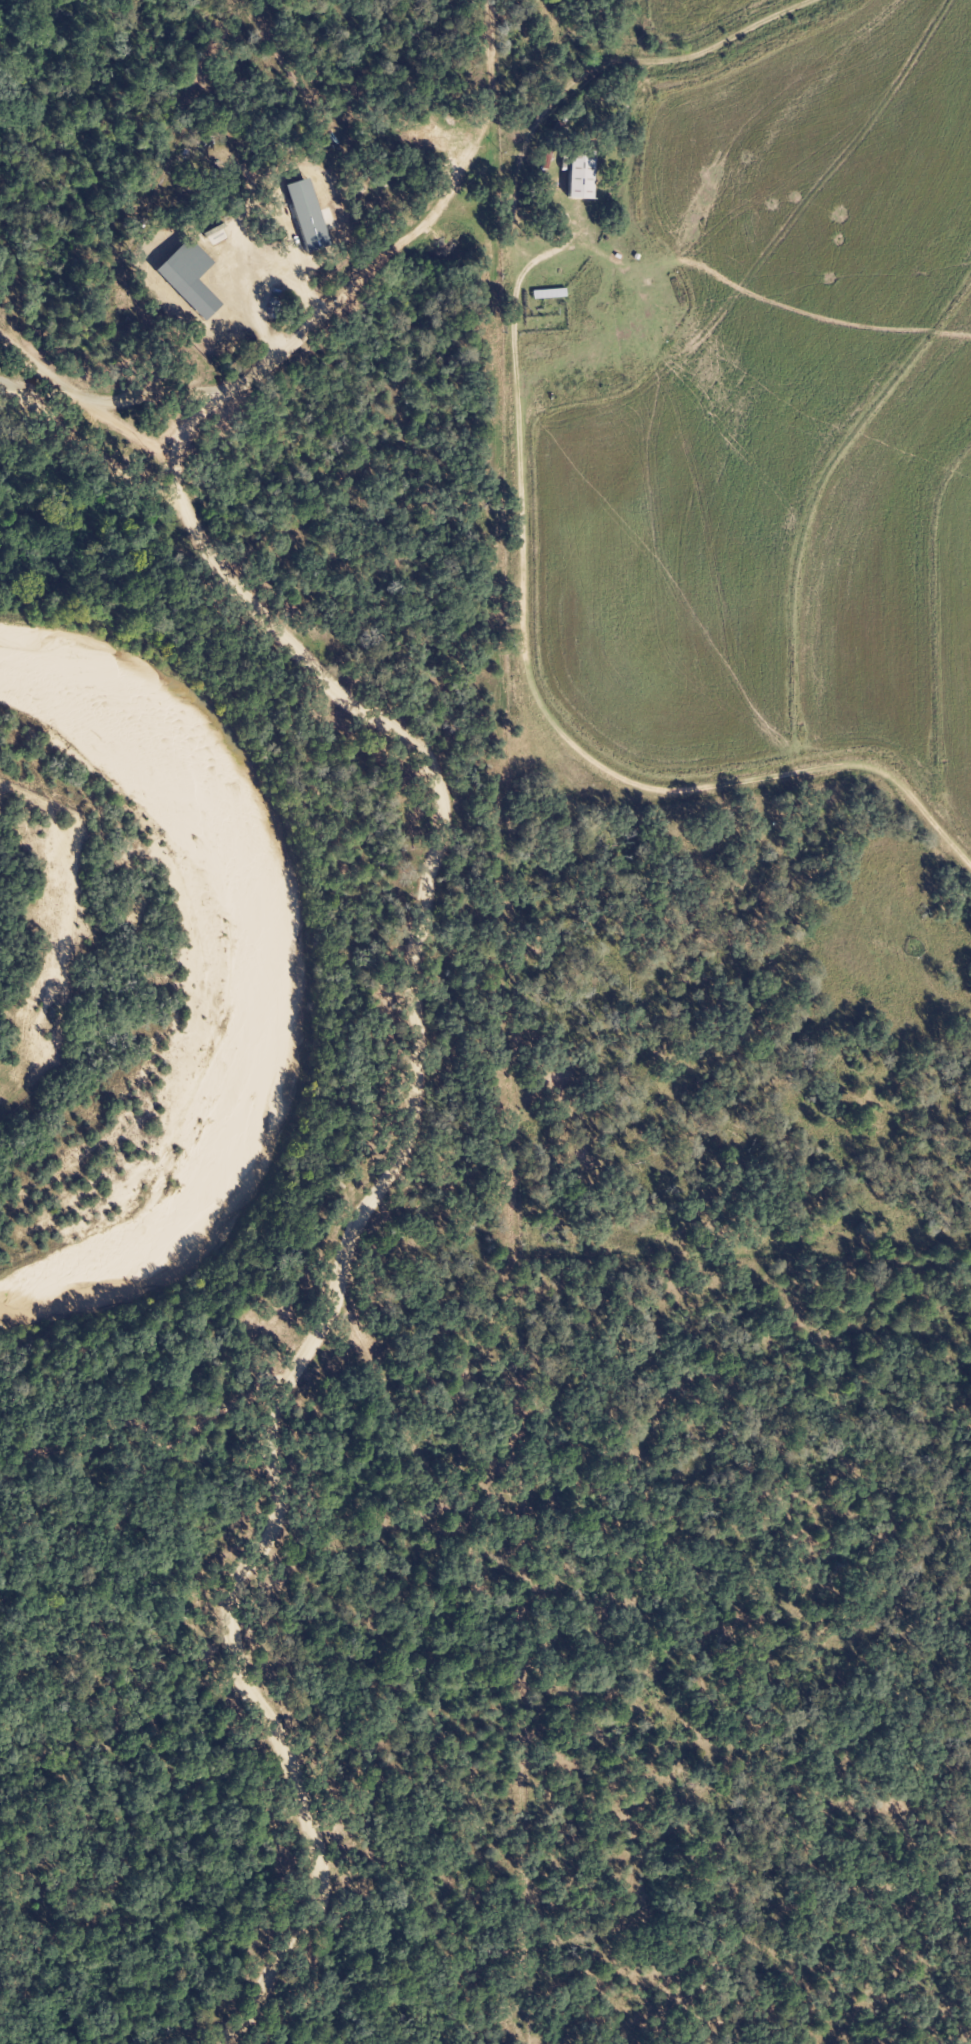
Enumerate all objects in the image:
road: (589, 79)
building: (583, 173)
building: (549, 293)

